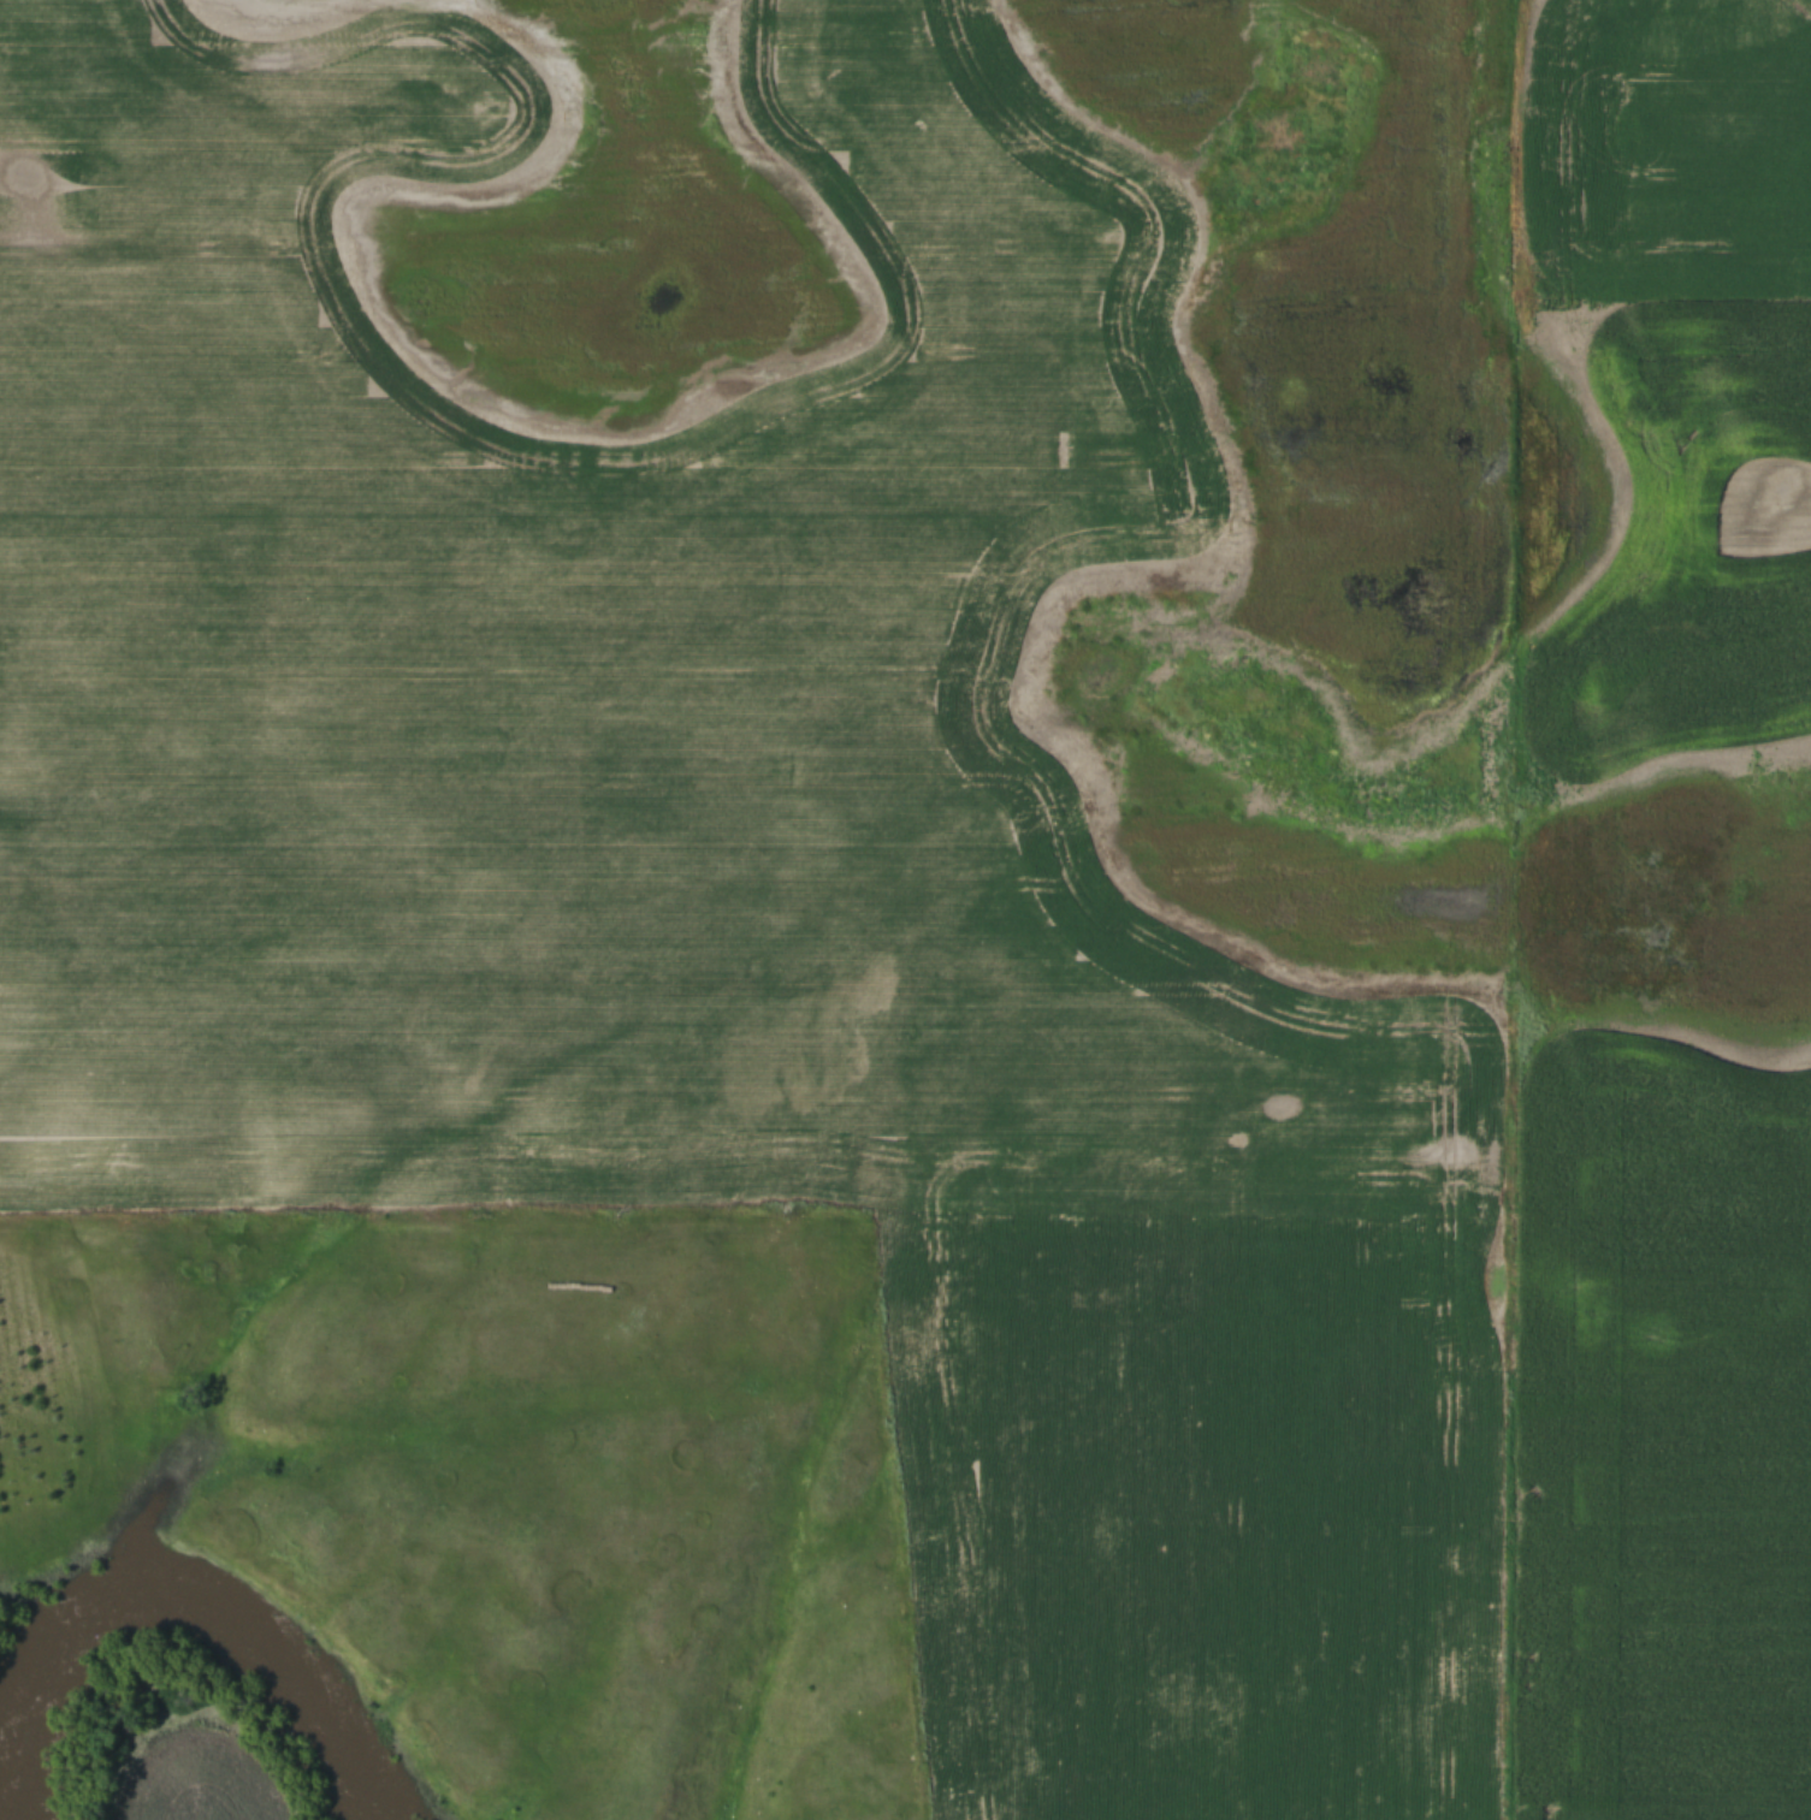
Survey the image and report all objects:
river: (168, 1597)

